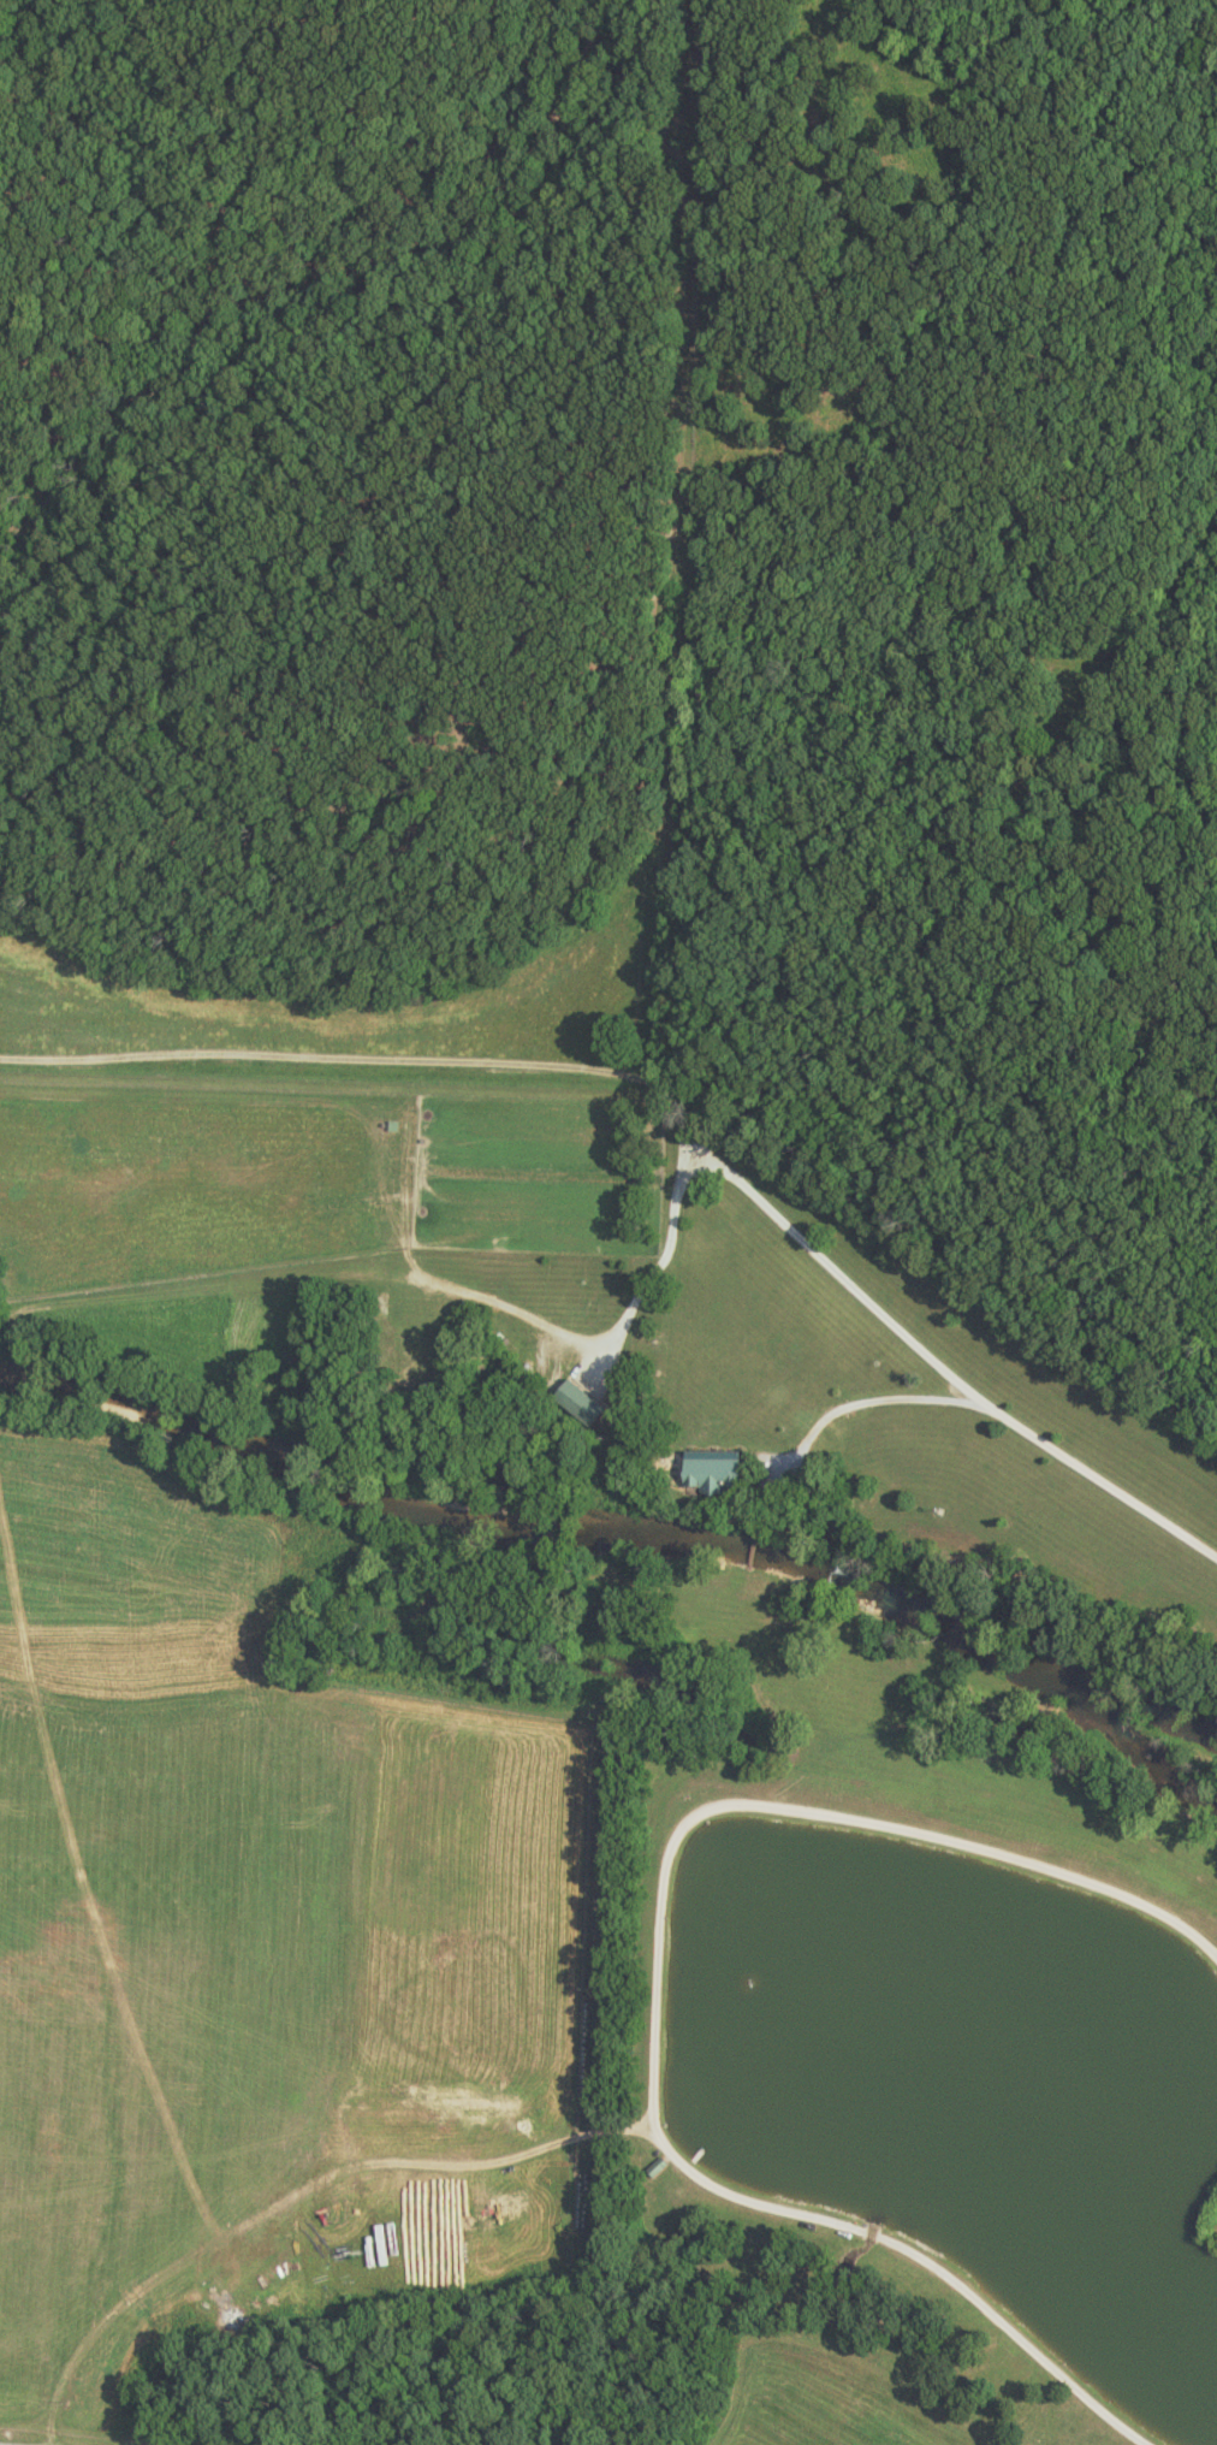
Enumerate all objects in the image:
road: (336, 1065)
road: (649, 1289)
road: (918, 1349)
building: (578, 1403)
road: (850, 1407)
building: (713, 1472)

